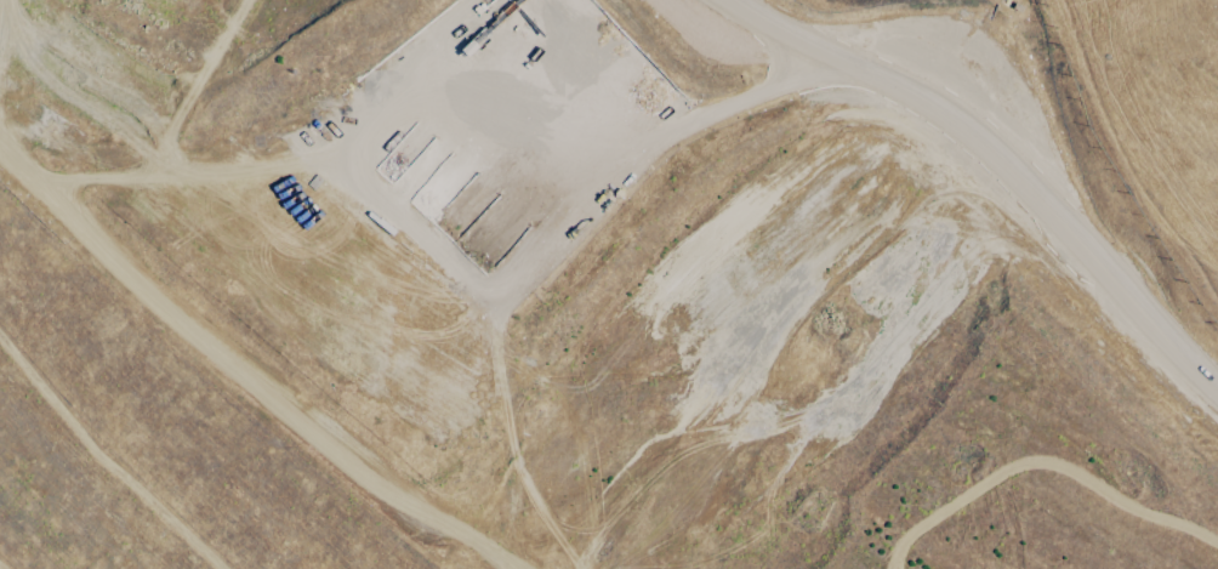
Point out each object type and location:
road: (903, 104)
landfill: (574, 295)

